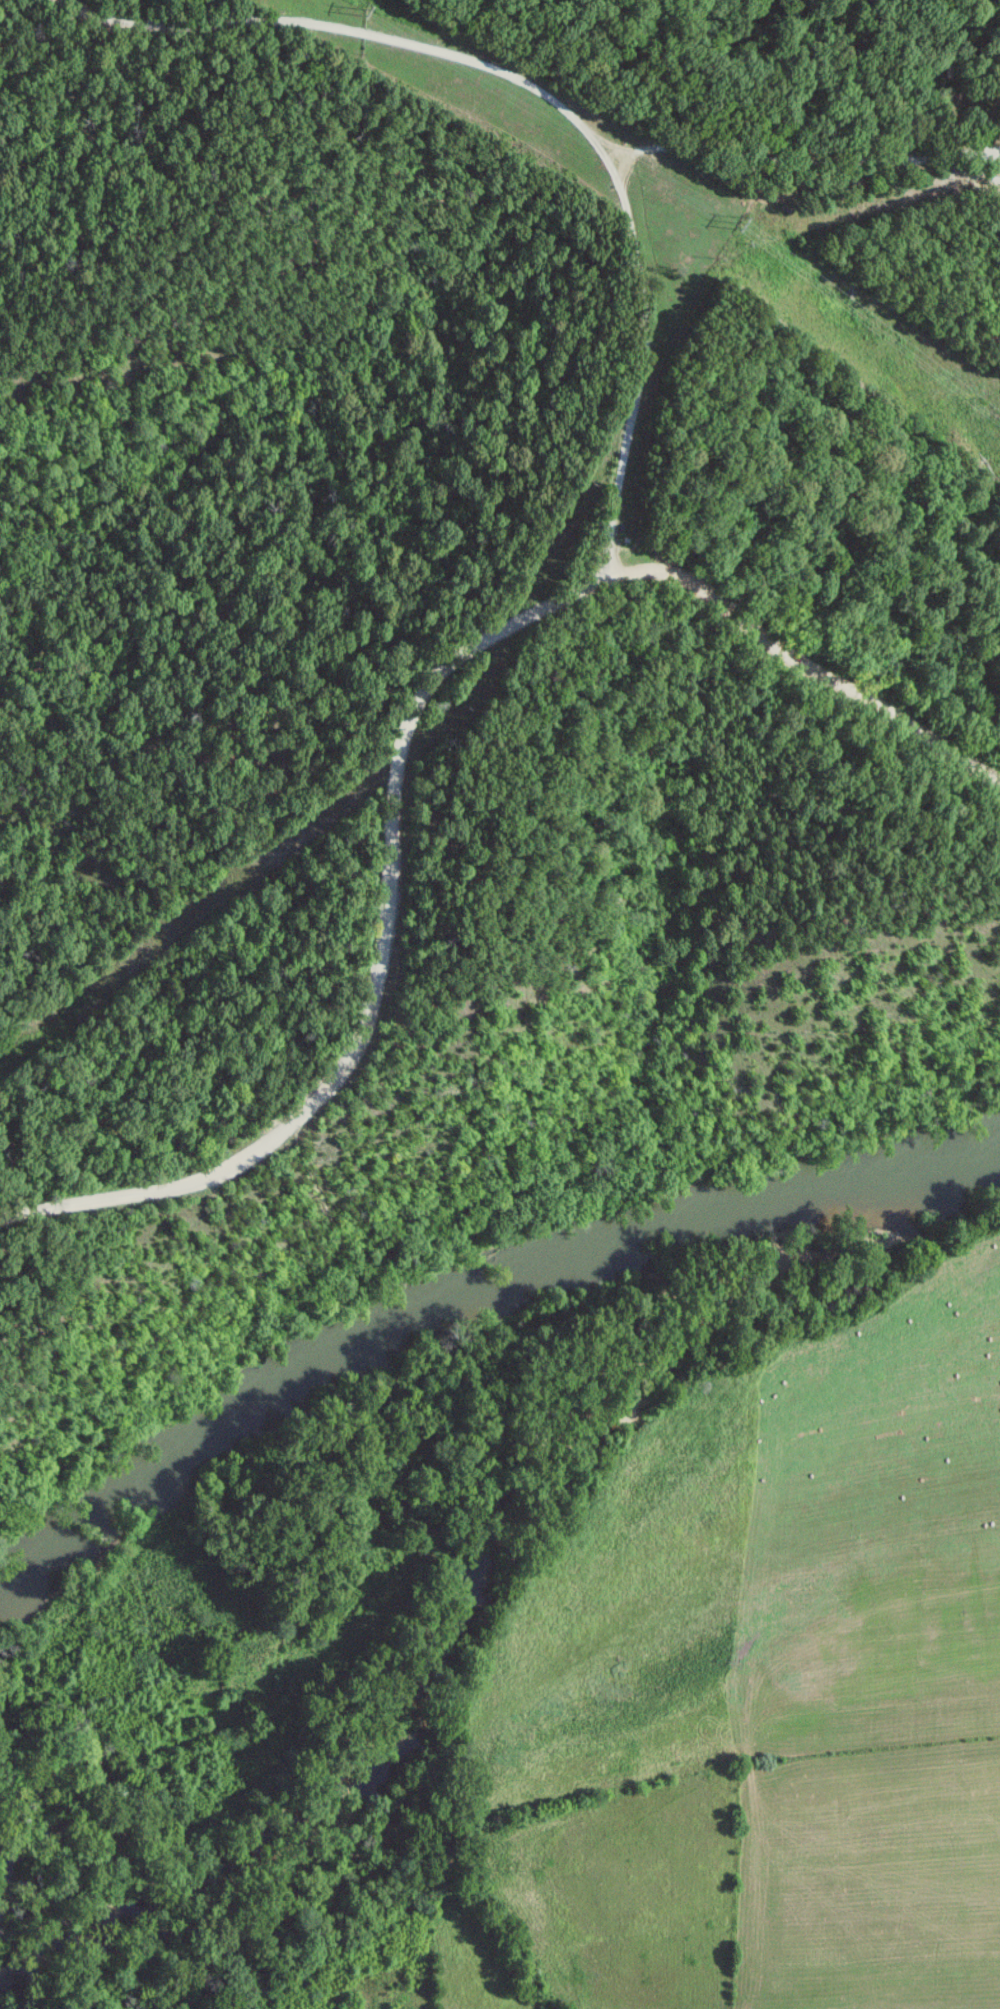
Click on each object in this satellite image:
road: (380, 65)
road: (819, 195)
road: (623, 391)
road: (401, 748)
river: (472, 1289)

